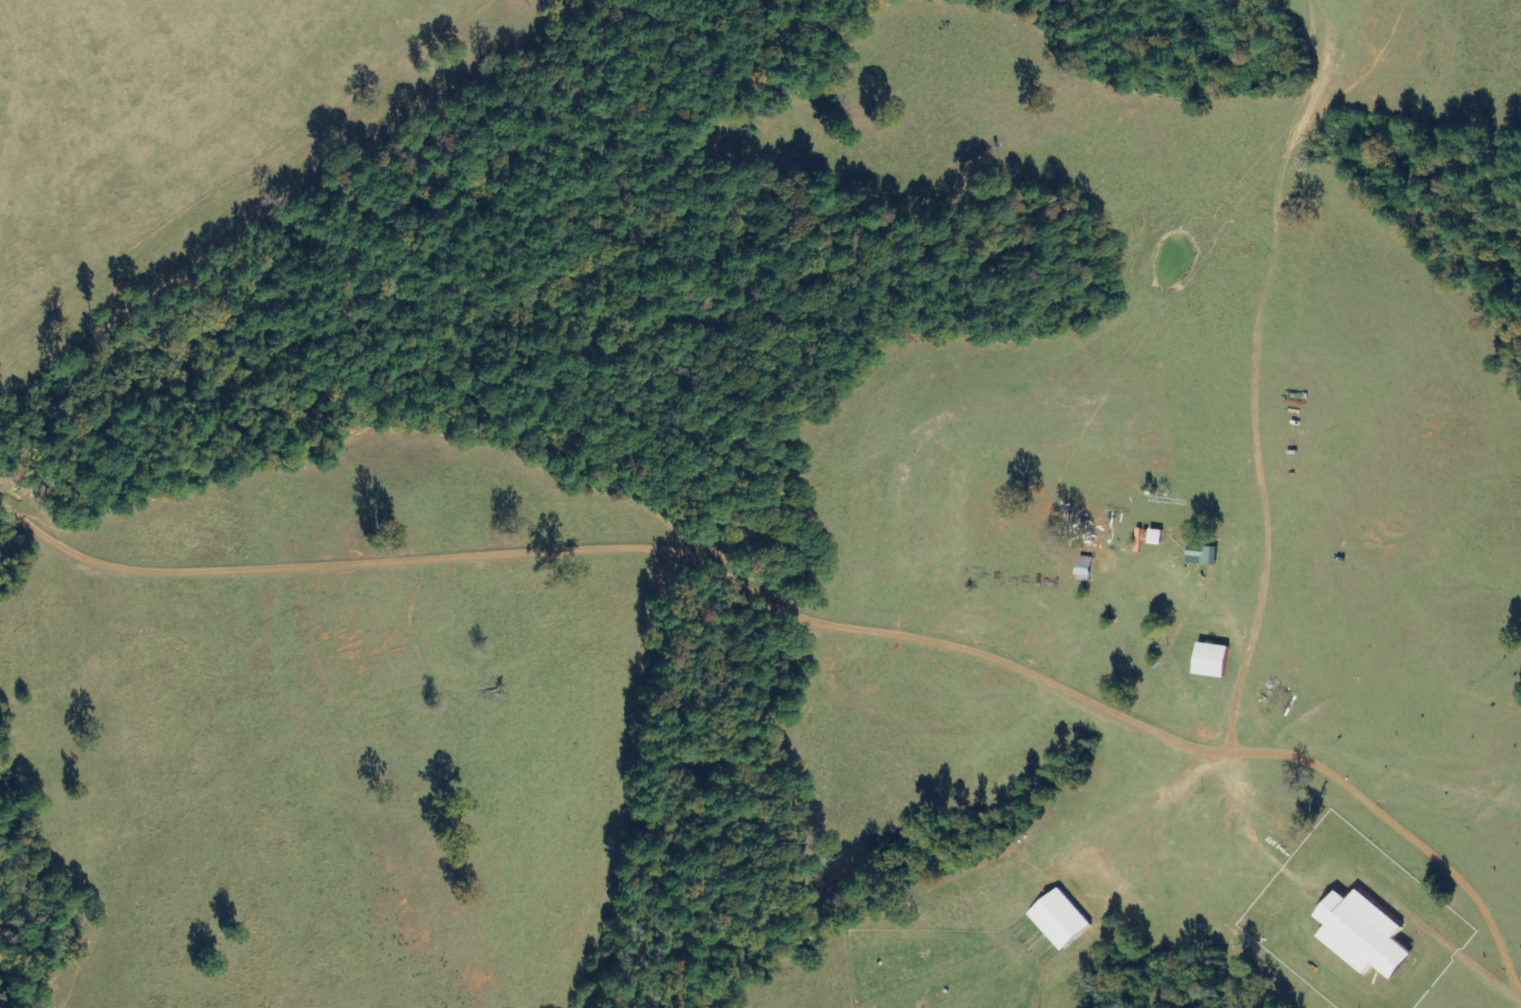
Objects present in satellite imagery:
building: (1204, 556)
building: (1214, 660)
building: (1063, 919)
building: (1367, 934)

